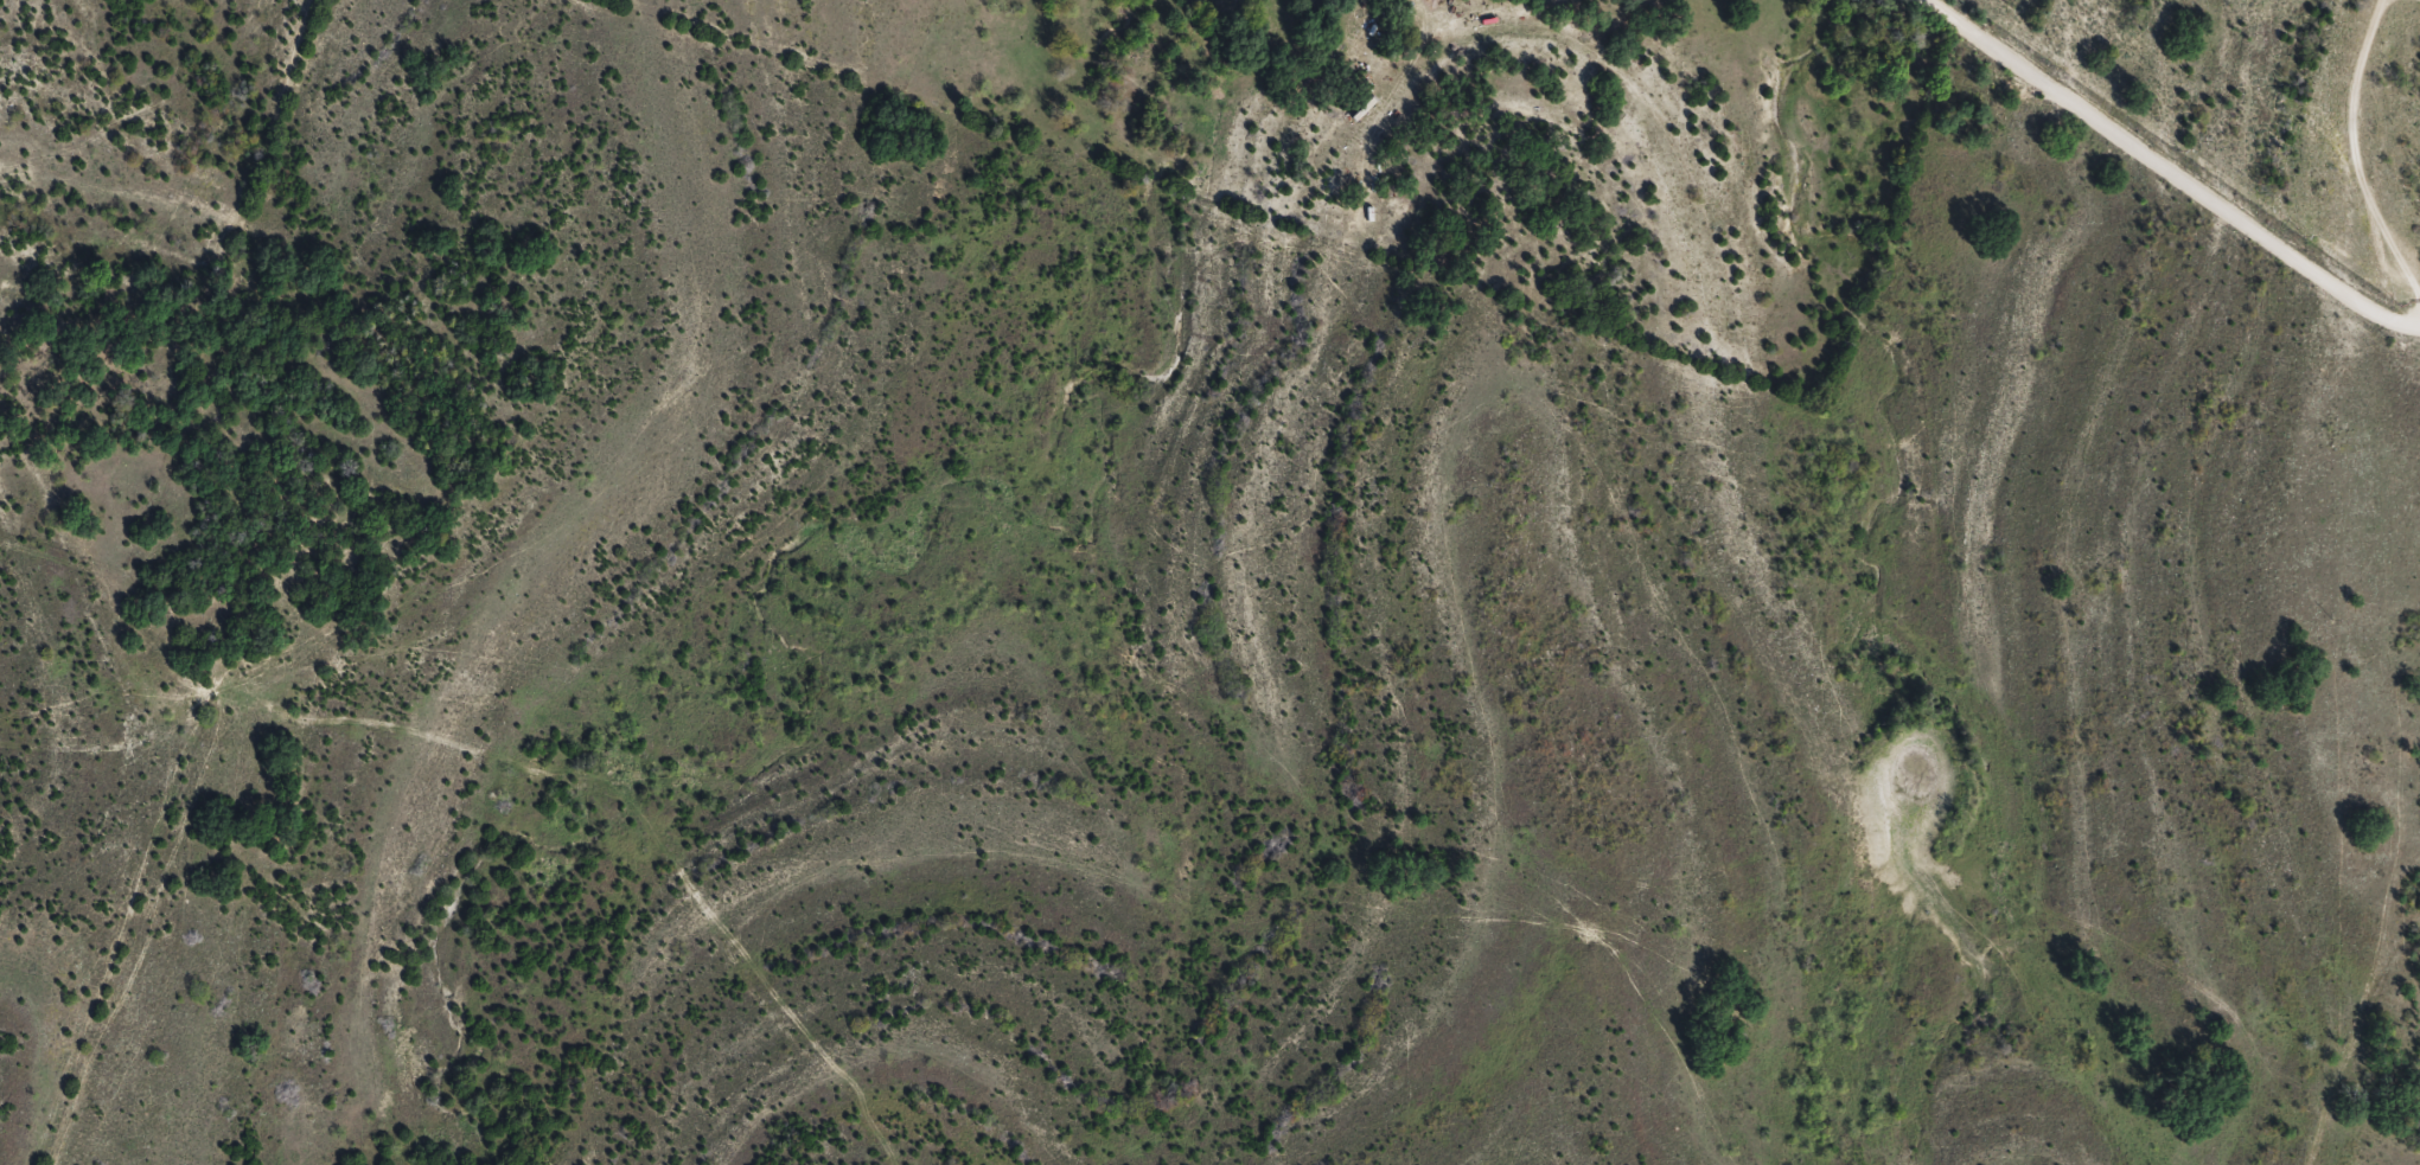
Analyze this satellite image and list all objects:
road: (2162, 173)

